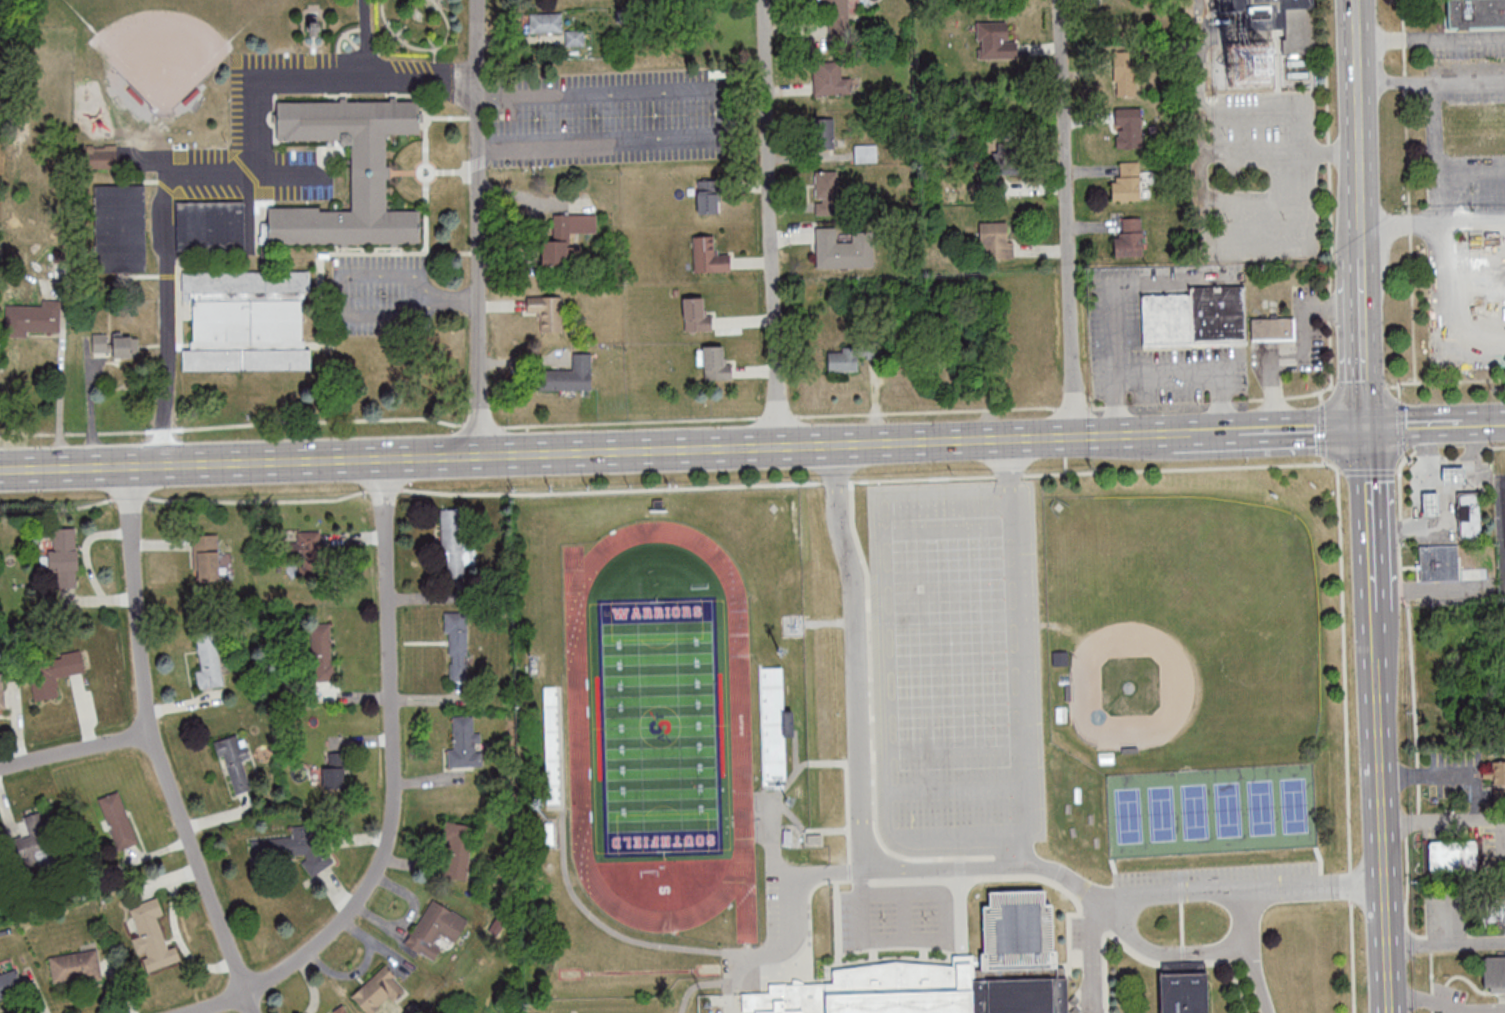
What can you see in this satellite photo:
building: (1261, 3)
building: (833, 12)
building: (1476, 14)
road: (1359, 19)
building: (545, 22)
building: (313, 27)
building: (575, 38)
road: (1432, 38)
park: (165, 41)
building: (994, 41)
road: (1360, 48)
building: (1124, 76)
road: (385, 77)
building: (830, 79)
road: (253, 102)
road: (728, 113)
building: (1128, 127)
building: (1474, 129)
road: (1361, 130)
building: (824, 132)
building: (865, 153)
building: (100, 157)
road: (1328, 160)
building: (1002, 162)
road: (1438, 162)
building: (1127, 182)
building: (991, 190)
road: (1408, 190)
building: (826, 192)
building: (709, 195)
road: (1067, 217)
road: (771, 222)
building: (211, 225)
building: (121, 227)
road: (479, 227)
road: (1362, 228)
building: (565, 237)
building: (1128, 238)
building: (995, 239)
building: (300, 243)
building: (832, 249)
building: (709, 255)
road: (165, 277)
building: (1486, 282)
road: (341, 291)
road: (452, 300)
road: (1363, 304)
building: (547, 312)
road: (1444, 313)
building: (696, 315)
building: (38, 317)
building: (1195, 317)
building: (1272, 328)
building: (101, 343)
building: (123, 345)
road: (1305, 358)
building: (843, 359)
building: (715, 364)
building: (567, 375)
road: (1443, 380)
road: (1394, 386)
road: (1331, 387)
road: (1361, 387)
road: (1365, 389)
road: (1323, 390)
road: (1321, 395)
road: (62, 402)
road: (1178, 404)
road: (1098, 407)
road: (545, 422)
road: (1483, 422)
road: (1413, 424)
traffic signals: (1365, 426)
road: (1401, 427)
road: (1301, 428)
road: (1322, 428)
road: (1213, 431)
road: (1182, 432)
road: (1453, 444)
road: (1499, 447)
road: (587, 451)
road: (1404, 457)
road: (1324, 460)
road: (1469, 463)
road: (1398, 470)
road: (1368, 471)
road: (1339, 472)
building: (1452, 475)
road: (510, 494)
building: (1429, 504)
road: (1444, 510)
road: (1339, 511)
building: (1467, 516)
road: (1368, 520)
road: (1503, 533)
building: (453, 544)
building: (308, 552)
building: (64, 556)
building: (206, 557)
building: (1438, 563)
road: (1424, 590)
park: (1184, 622)
road: (1372, 640)
building: (457, 642)
building: (322, 652)
road: (1023, 652)
building: (208, 661)
building: (52, 673)
building: (772, 684)
building: (2, 693)
road: (1413, 698)
track: (577, 726)
park: (658, 726)
road: (860, 726)
building: (463, 743)
road: (158, 746)
road: (77, 749)
building: (235, 760)
building: (773, 761)
building: (333, 770)
road: (1427, 775)
building: (1496, 778)
road: (394, 785)
park: (1293, 805)
park: (1260, 807)
park: (1227, 809)
park: (1194, 811)
park: (1161, 813)
park: (1128, 815)
building: (117, 820)
road: (1452, 823)
road: (1382, 838)
building: (33, 843)
building: (457, 849)
building: (291, 850)
building: (1453, 856)
road: (1321, 886)
road: (1134, 896)
building: (1495, 908)
building: (435, 929)
building: (152, 937)
road: (1352, 941)
road: (1445, 942)
road: (1252, 951)
road: (1161, 953)
building: (75, 967)
building: (960, 972)
building: (1493, 973)
road: (1431, 974)
building: (10, 987)
building: (1188, 987)
building: (378, 991)
road: (1446, 1003)
building: (343, 1011)

